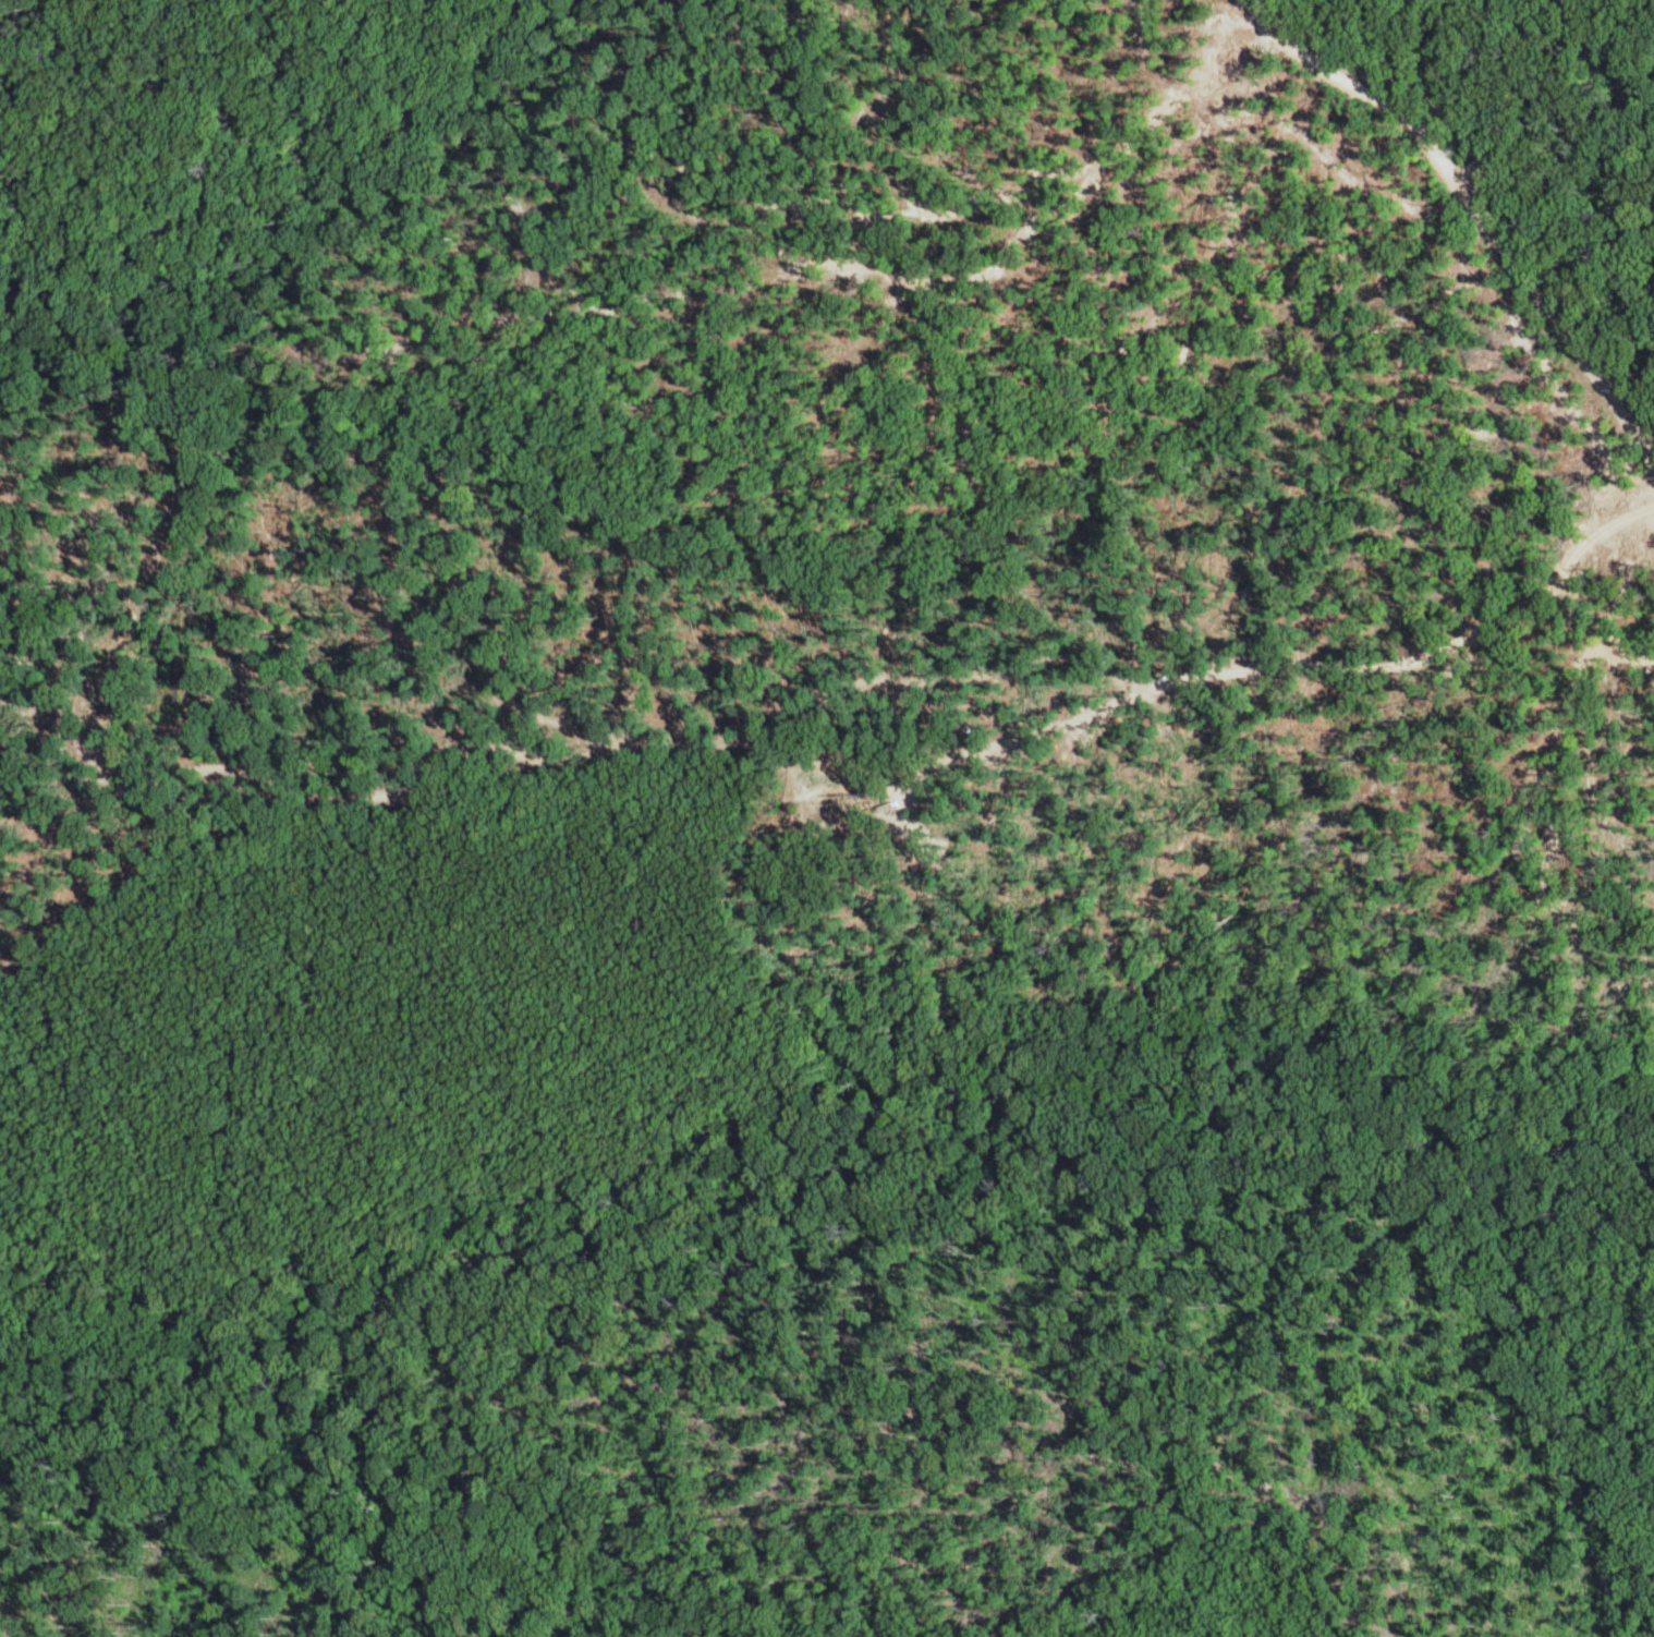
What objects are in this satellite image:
road: (1479, 209)

